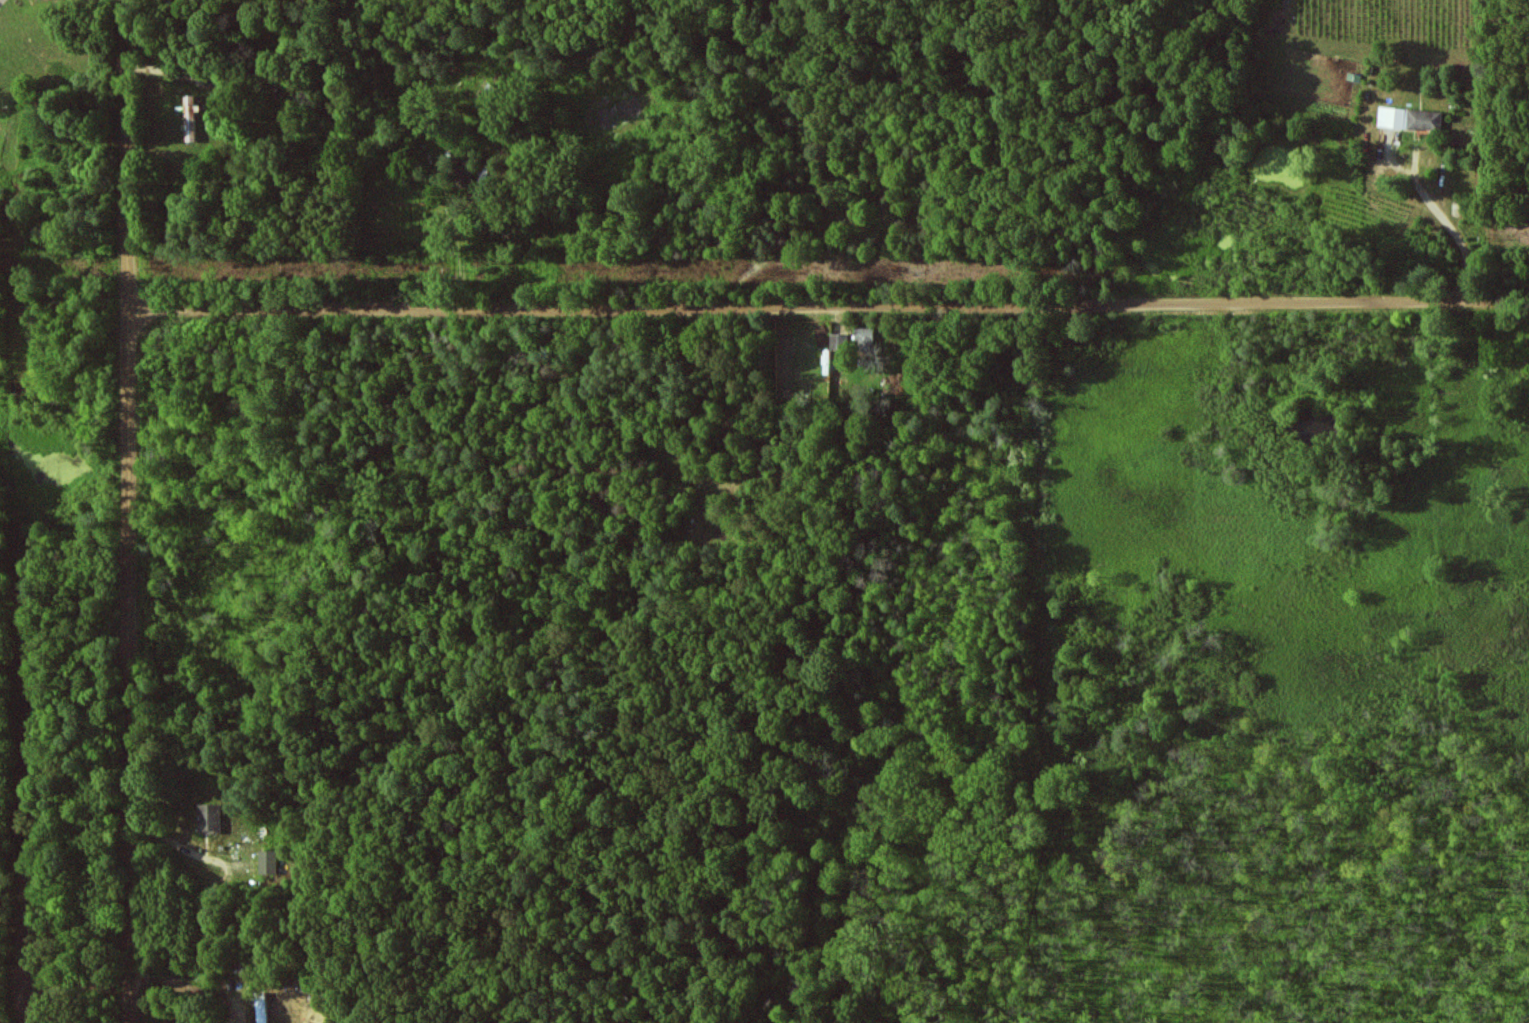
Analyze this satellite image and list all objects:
road: (1, 1)
building: (1409, 122)
road: (864, 308)
road: (131, 511)
building: (210, 817)
building: (269, 861)
building: (262, 1008)

